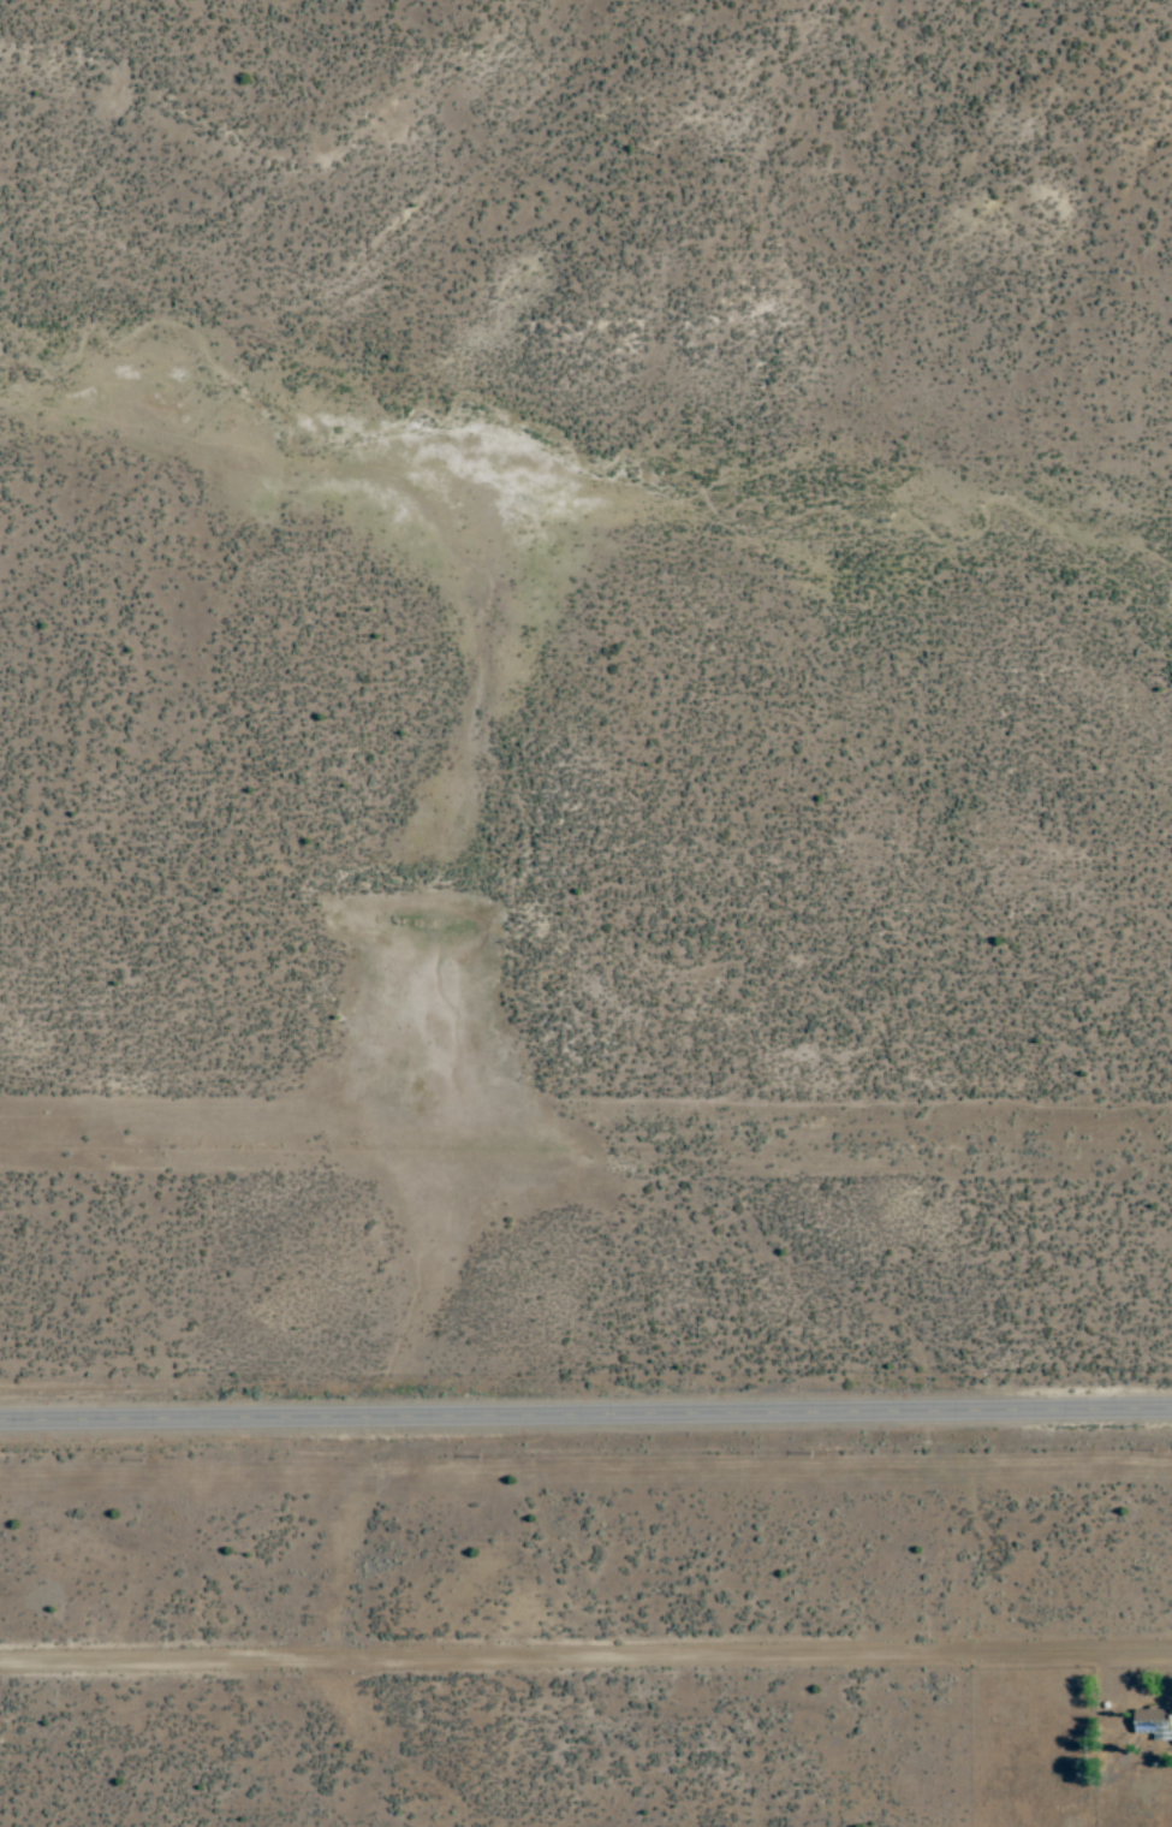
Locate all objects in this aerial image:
road: (585, 1416)
road: (585, 1659)
building: (1154, 1722)

